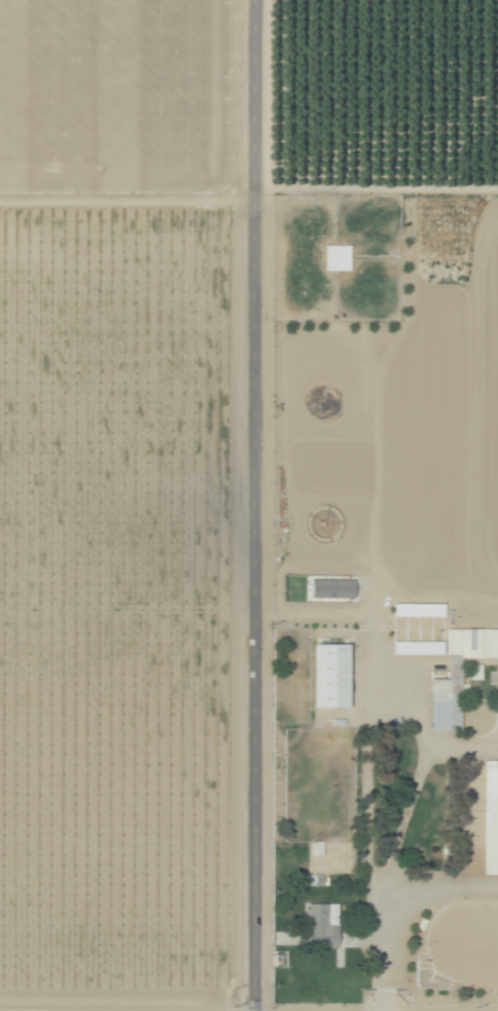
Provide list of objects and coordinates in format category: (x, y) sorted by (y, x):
road: (376, 188)
building: (335, 258)
crop: (118, 502)
crop: (386, 504)
road: (255, 505)
building: (330, 588)
building: (416, 610)
building: (415, 648)
road: (376, 664)
building: (331, 670)
building: (460, 678)
building: (491, 832)
building: (316, 847)
road: (399, 912)
building: (323, 921)

